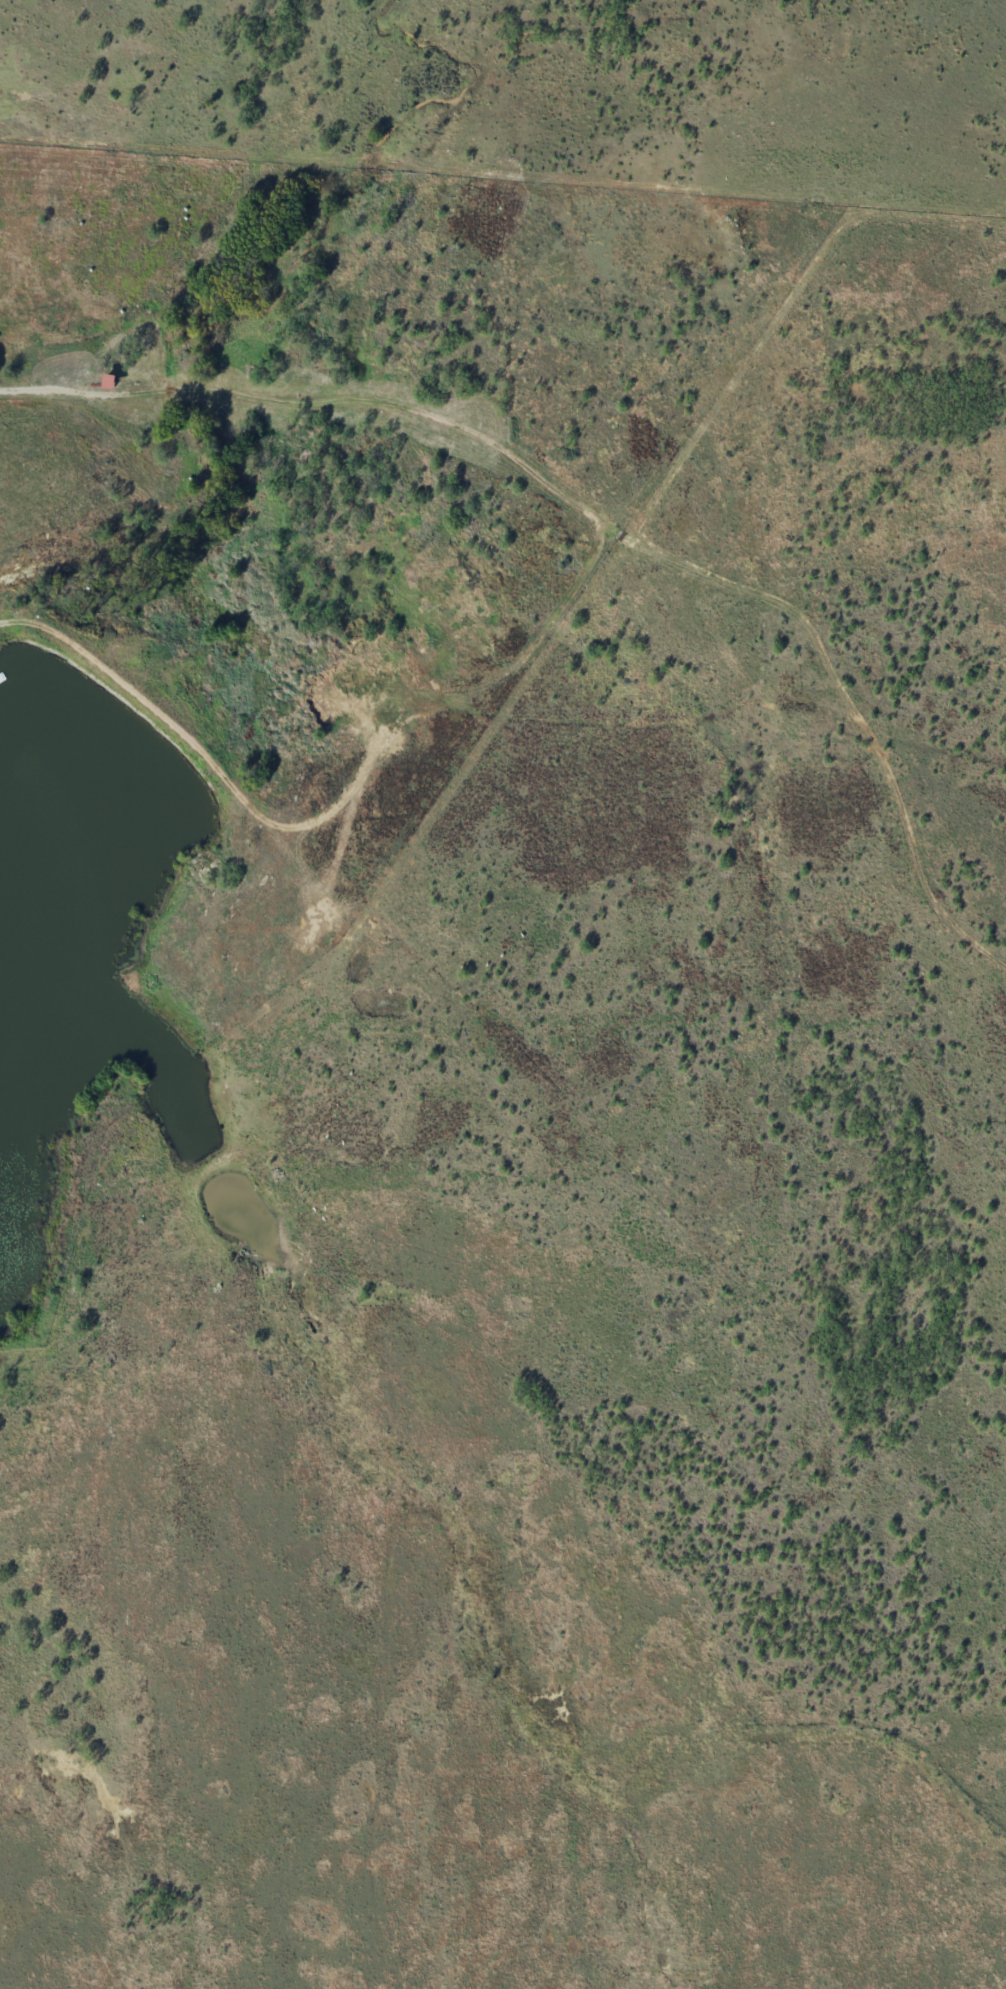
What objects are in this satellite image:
road: (247, 460)
road: (534, 1044)

